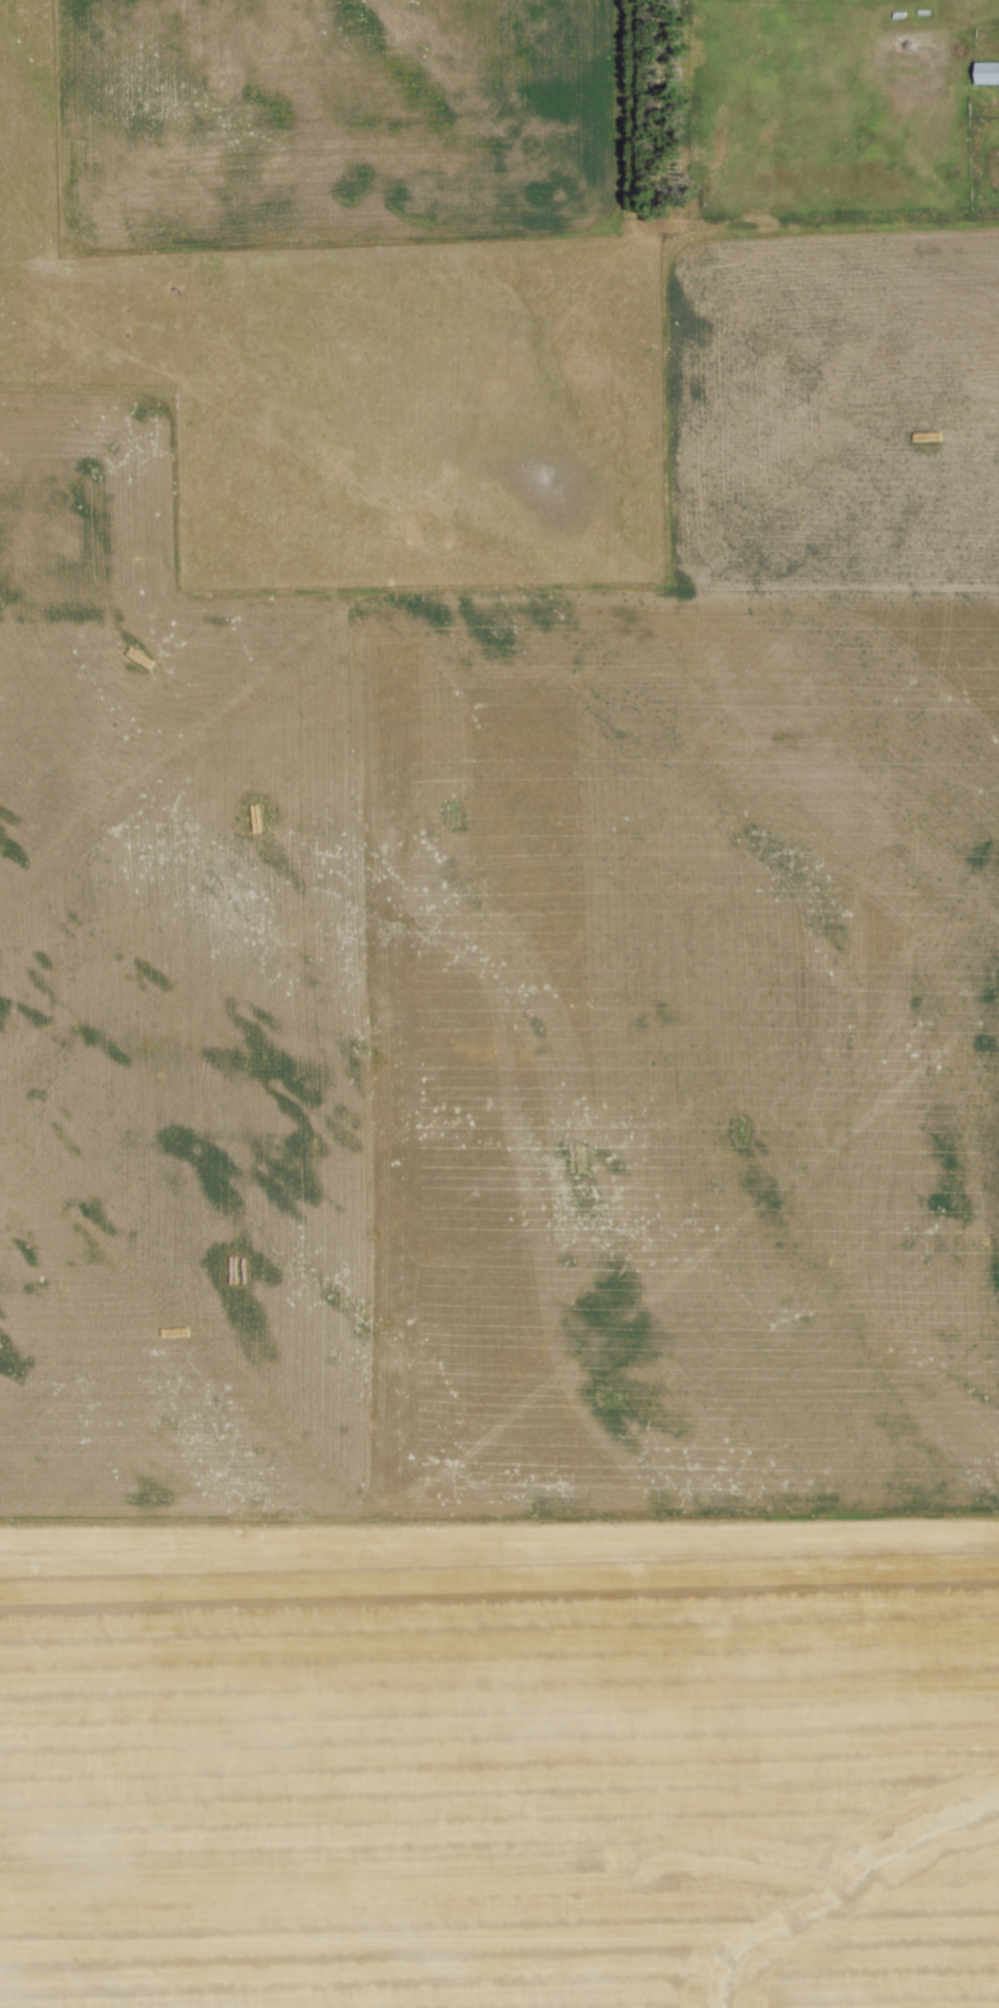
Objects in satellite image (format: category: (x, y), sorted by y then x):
building: (988, 73)

